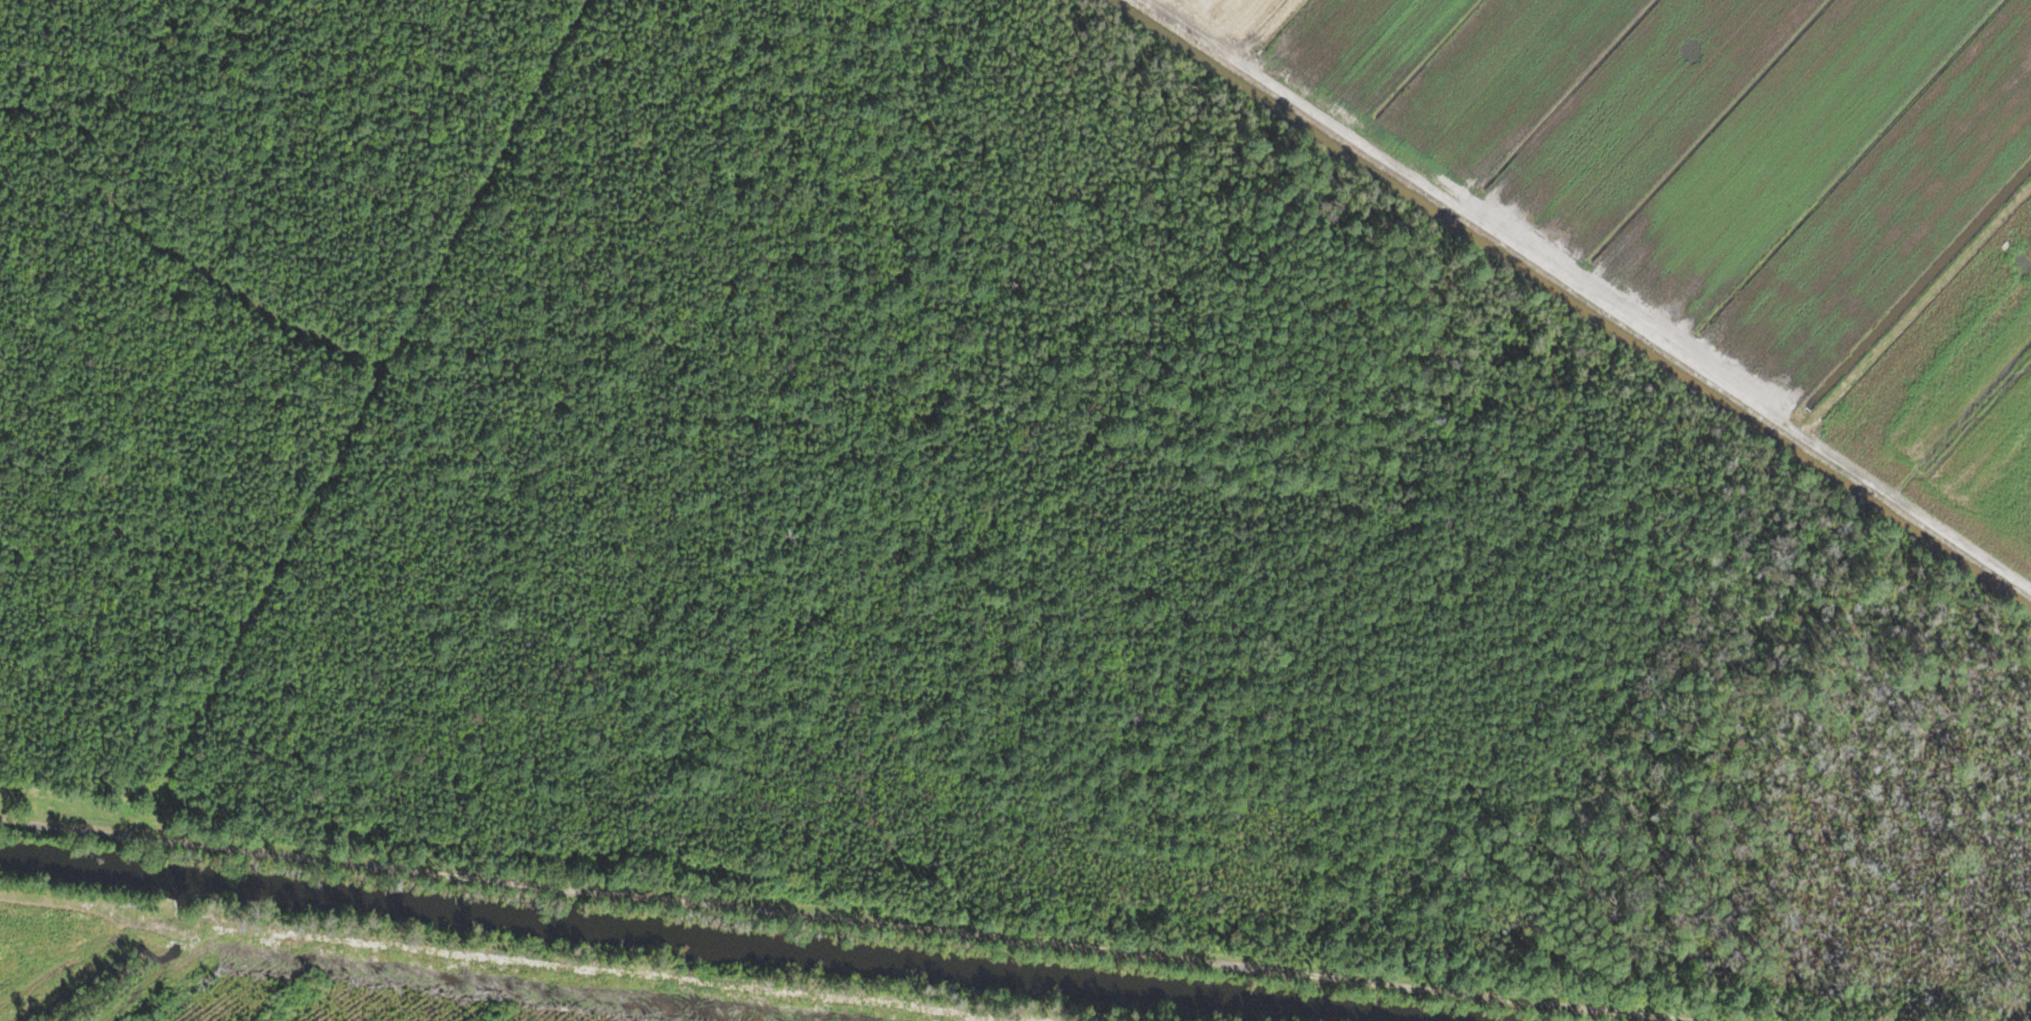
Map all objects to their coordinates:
road: (1355, 502)

